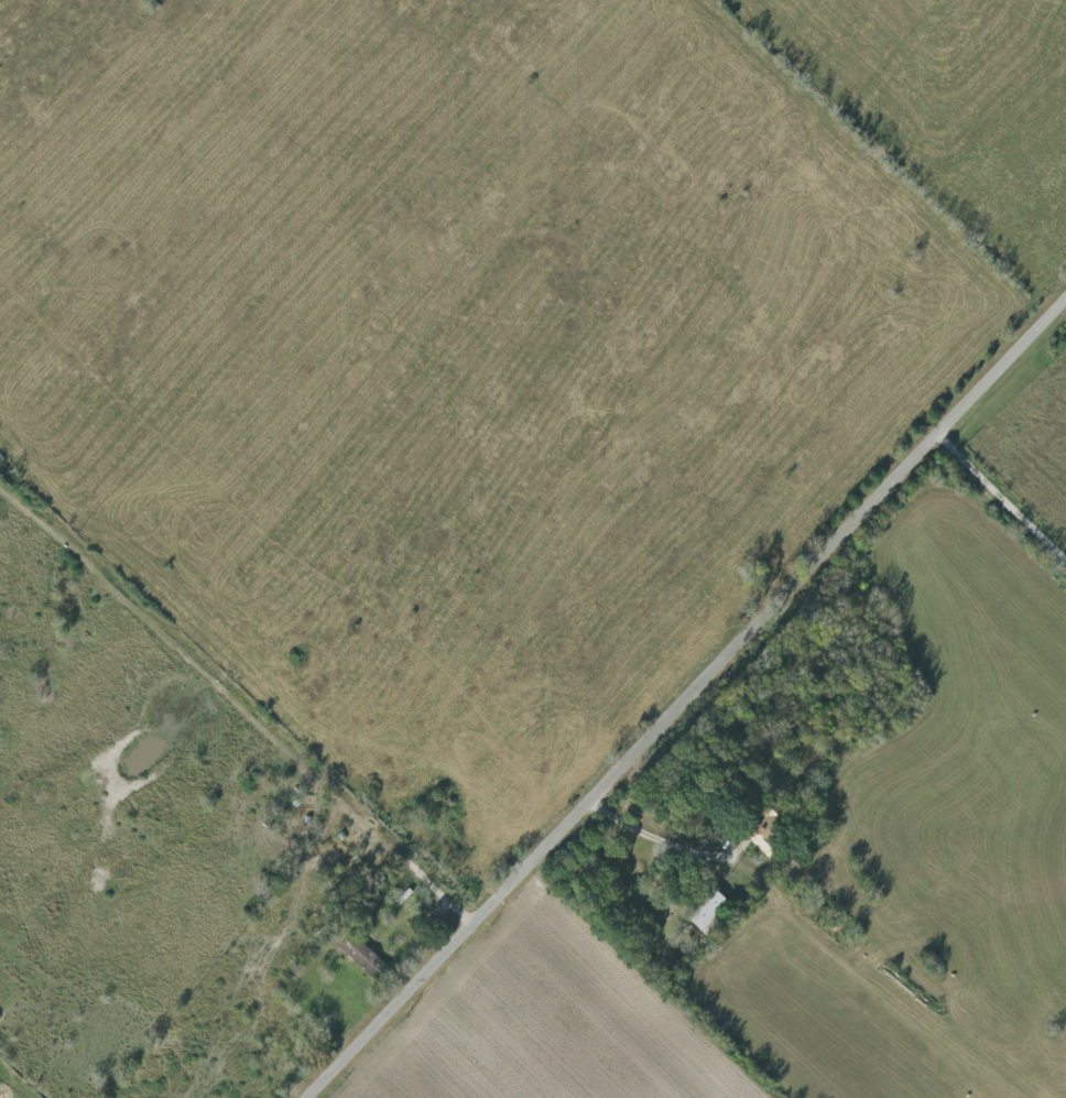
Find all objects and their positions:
road: (1003, 497)
road: (687, 700)
road: (329, 783)
road: (653, 834)
building: (703, 911)
building: (357, 956)

